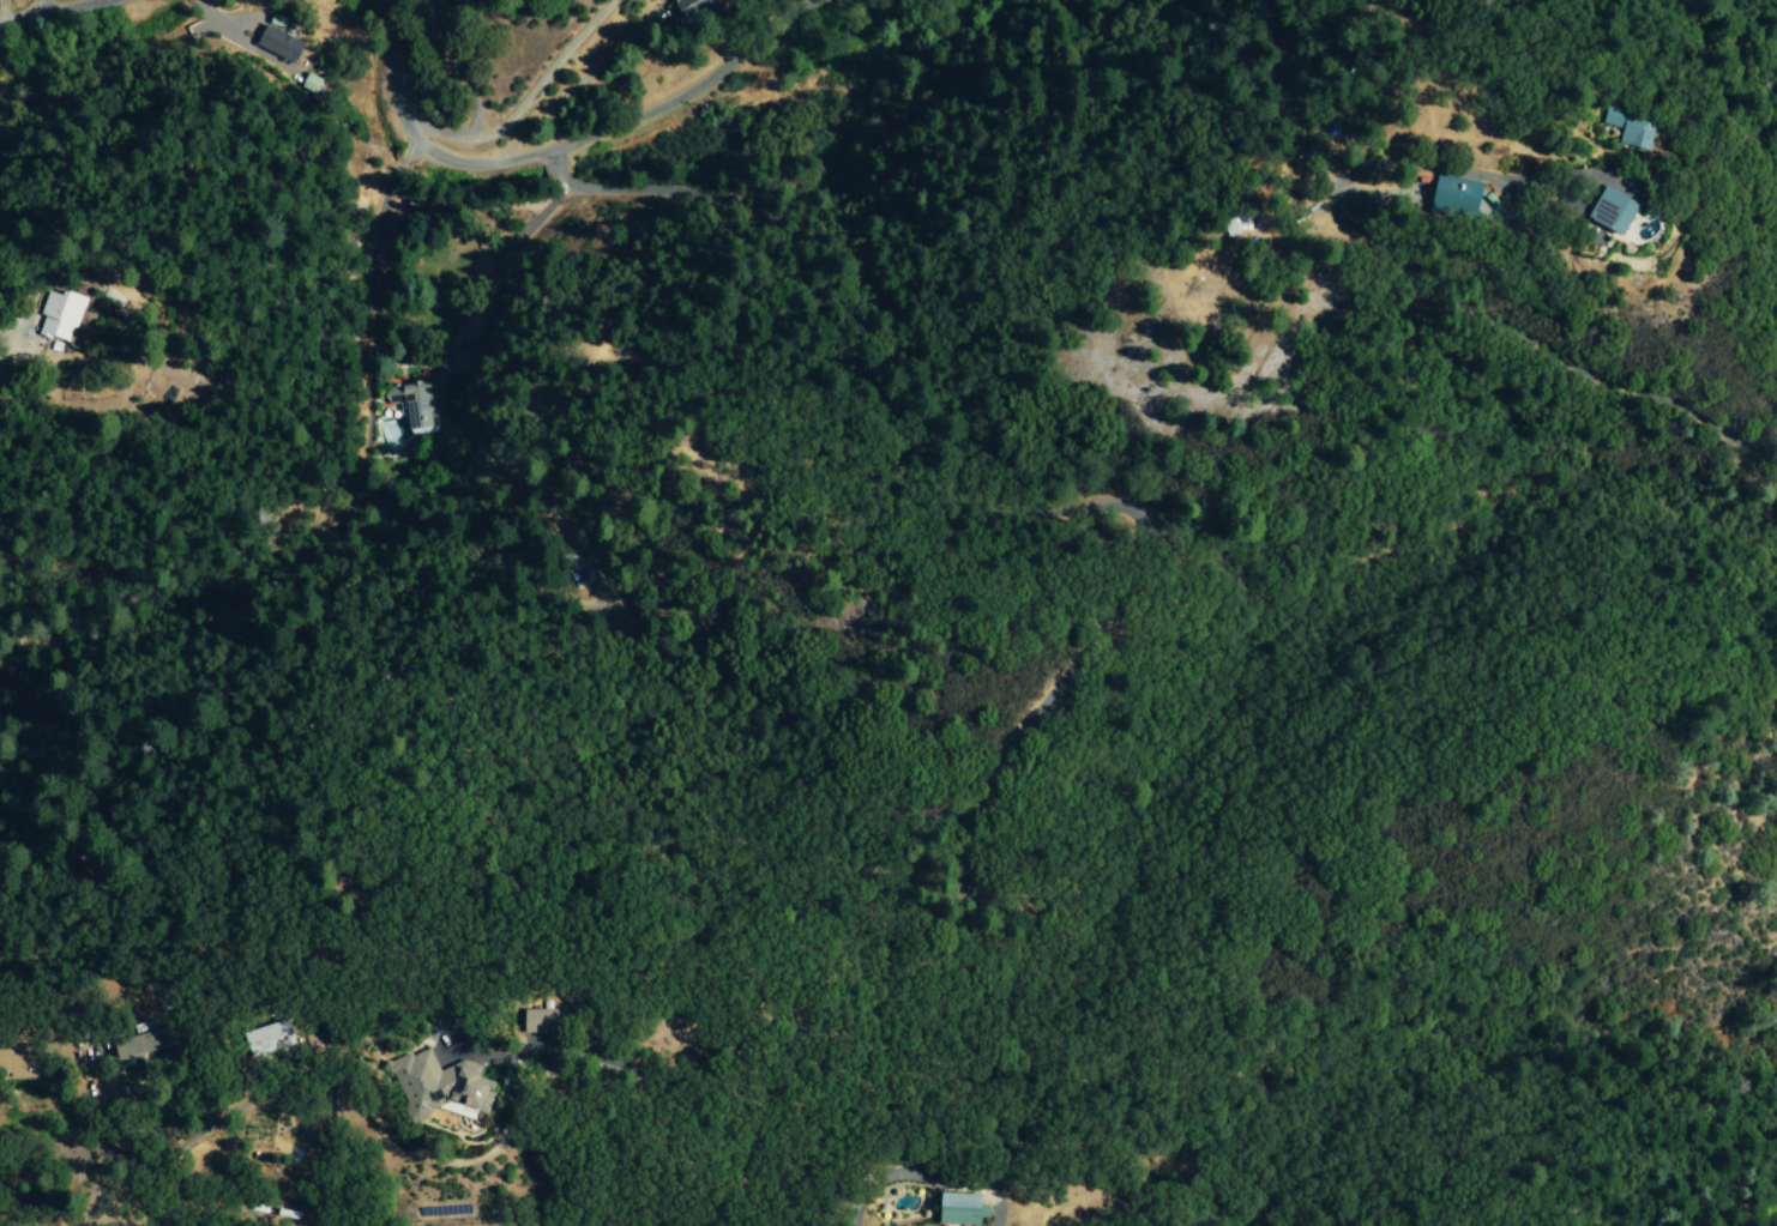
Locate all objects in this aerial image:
road: (41, 7)
building: (687, 7)
road: (2, 11)
building: (276, 44)
road: (454, 65)
road: (388, 71)
road: (580, 78)
building: (311, 84)
road: (522, 97)
road: (621, 119)
building: (1622, 129)
building: (1447, 198)
building: (1604, 212)
building: (1224, 229)
building: (58, 316)
road: (421, 362)
building: (537, 1021)
building: (261, 1041)
building: (134, 1047)
building: (10, 1067)
building: (434, 1087)
road: (131, 1204)
building: (958, 1210)

